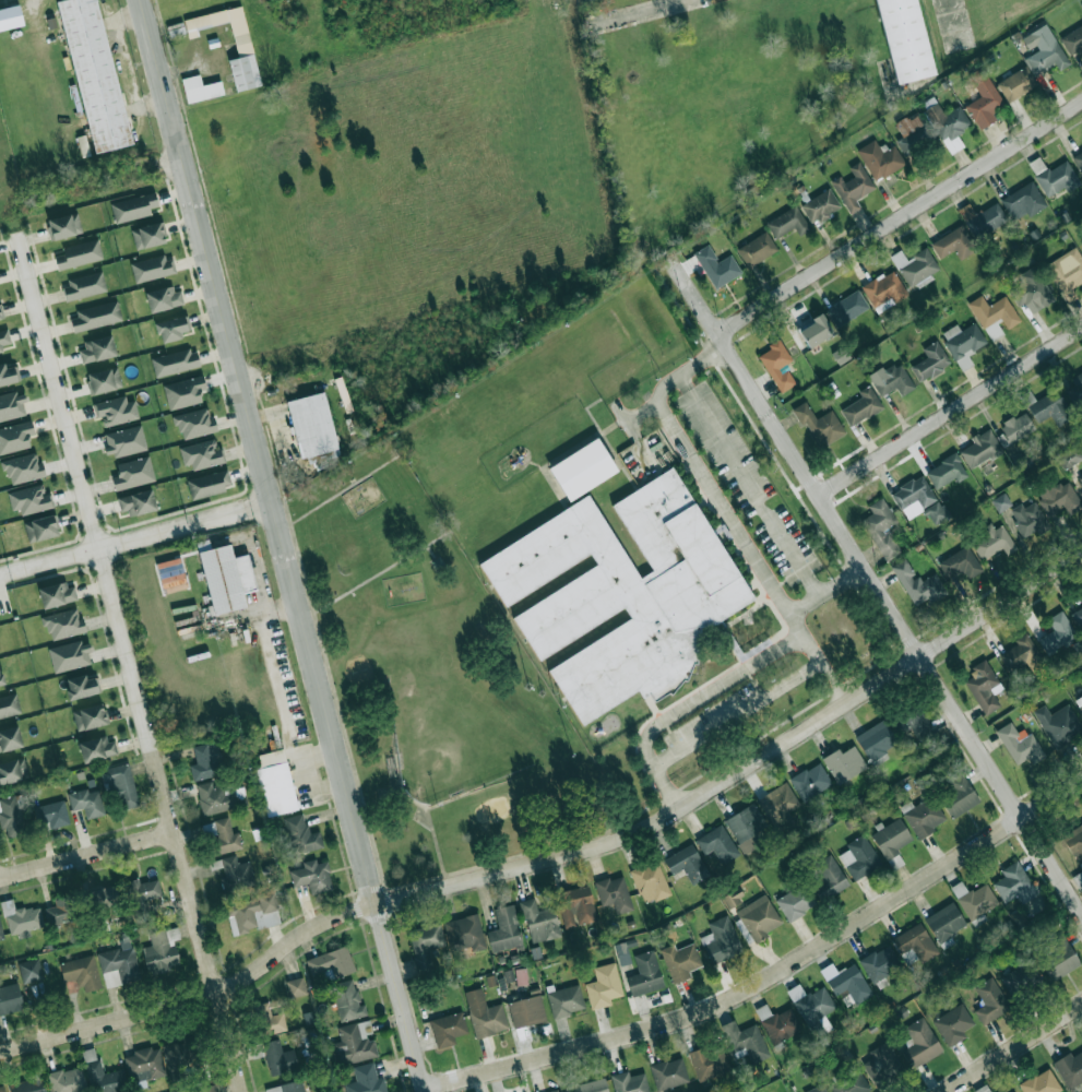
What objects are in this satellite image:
road: (632, 12)
building: (10, 17)
building: (240, 32)
building: (902, 39)
building: (1072, 41)
building: (1043, 49)
building: (245, 72)
building: (94, 74)
building: (1016, 84)
building: (200, 88)
building: (984, 99)
building: (947, 123)
building: (912, 133)
building: (83, 145)
building: (1078, 158)
building: (880, 159)
building: (1054, 177)
building: (853, 187)
building: (1023, 202)
building: (820, 206)
building: (133, 207)
building: (983, 218)
road: (901, 219)
building: (788, 223)
building: (64, 226)
building: (147, 236)
building: (954, 244)
building: (757, 249)
building: (79, 254)
building: (716, 266)
building: (915, 266)
building: (153, 268)
building: (1067, 272)
building: (84, 285)
building: (884, 290)
building: (1031, 290)
building: (165, 298)
building: (847, 308)
building: (0, 314)
building: (994, 316)
building: (95, 317)
building: (173, 329)
building: (815, 331)
building: (4, 339)
building: (963, 343)
building: (97, 349)
building: (930, 361)
building: (175, 363)
building: (777, 365)
road: (687, 368)
building: (9, 375)
building: (104, 380)
building: (892, 380)
building: (1078, 383)
building: (183, 392)
building: (12, 405)
building: (861, 406)
building: (1047, 407)
road: (642, 410)
building: (116, 411)
road: (951, 413)
building: (194, 424)
building: (819, 424)
building: (313, 427)
building: (1015, 429)
road: (634, 435)
building: (15, 437)
building: (124, 441)
building: (980, 449)
building: (201, 454)
building: (1069, 456)
building: (23, 468)
building: (584, 470)
building: (946, 472)
building: (133, 473)
building: (1080, 478)
building: (209, 484)
road: (751, 484)
road: (338, 492)
building: (29, 499)
building: (1059, 499)
building: (918, 500)
building: (138, 502)
building: (1001, 502)
road: (723, 507)
building: (1029, 519)
building: (41, 529)
building: (881, 529)
road: (136, 541)
building: (992, 541)
road: (283, 546)
building: (961, 562)
road: (377, 574)
building: (225, 577)
road: (872, 581)
building: (918, 584)
road: (827, 590)
building: (57, 594)
building: (623, 594)
building: (1078, 617)
building: (63, 624)
road: (797, 624)
building: (1057, 633)
road: (811, 646)
park: (437, 652)
building: (69, 655)
building: (1021, 655)
road: (127, 663)
building: (1, 679)
road: (833, 681)
building: (81, 686)
building: (984, 686)
road: (710, 691)
building: (1079, 701)
building: (9, 705)
road: (738, 713)
building: (90, 716)
building: (917, 724)
building: (1058, 724)
building: (10, 739)
building: (876, 740)
building: (1019, 745)
building: (96, 748)
building: (206, 760)
building: (844, 763)
building: (12, 770)
building: (810, 781)
building: (275, 782)
building: (120, 784)
road: (667, 788)
building: (958, 796)
building: (215, 797)
road: (413, 799)
building: (86, 802)
building: (778, 805)
building: (12, 815)
building: (53, 815)
building: (923, 816)
building: (746, 827)
building: (300, 834)
building: (222, 835)
building: (891, 841)
building: (1075, 841)
building: (717, 843)
road: (439, 846)
road: (562, 855)
road: (87, 856)
building: (859, 856)
building: (686, 863)
building: (234, 871)
building: (830, 873)
building: (312, 876)
building: (1078, 879)
building: (650, 881)
building: (1013, 883)
building: (614, 893)
building: (142, 897)
building: (733, 897)
building: (796, 902)
building: (575, 905)
building: (60, 910)
building: (251, 913)
building: (759, 917)
building: (538, 922)
building: (944, 923)
building: (504, 929)
building: (1, 931)
building: (464, 933)
building: (721, 940)
building: (425, 942)
building: (915, 942)
building: (160, 951)
building: (622, 953)
building: (1058, 957)
building: (680, 961)
building: (118, 964)
building: (330, 964)
building: (880, 964)
building: (29, 970)
building: (80, 973)
building: (644, 974)
road: (772, 976)
building: (1019, 977)
building: (846, 982)
building: (604, 985)
building: (295, 987)
building: (10, 998)
building: (347, 1000)
building: (564, 1000)
building: (989, 1000)
building: (811, 1002)
building: (526, 1011)
building: (484, 1014)
building: (267, 1019)
building: (777, 1023)
building: (952, 1024)
building: (448, 1029)
building: (354, 1043)
building: (751, 1043)
building: (920, 1043)
road: (1014, 1048)
building: (178, 1056)
building: (278, 1057)
building: (710, 1063)
building: (882, 1064)
building: (144, 1066)
building: (1070, 1068)
building: (669, 1073)
building: (103, 1075)
building: (68, 1080)
building: (366, 1080)
building: (848, 1080)
building: (629, 1082)
building: (1041, 1082)
building: (28, 1084)
building: (591, 1085)
building: (286, 1087)
building: (1, 1088)
building: (209, 1088)
building: (817, 1089)
building: (562, 1090)

